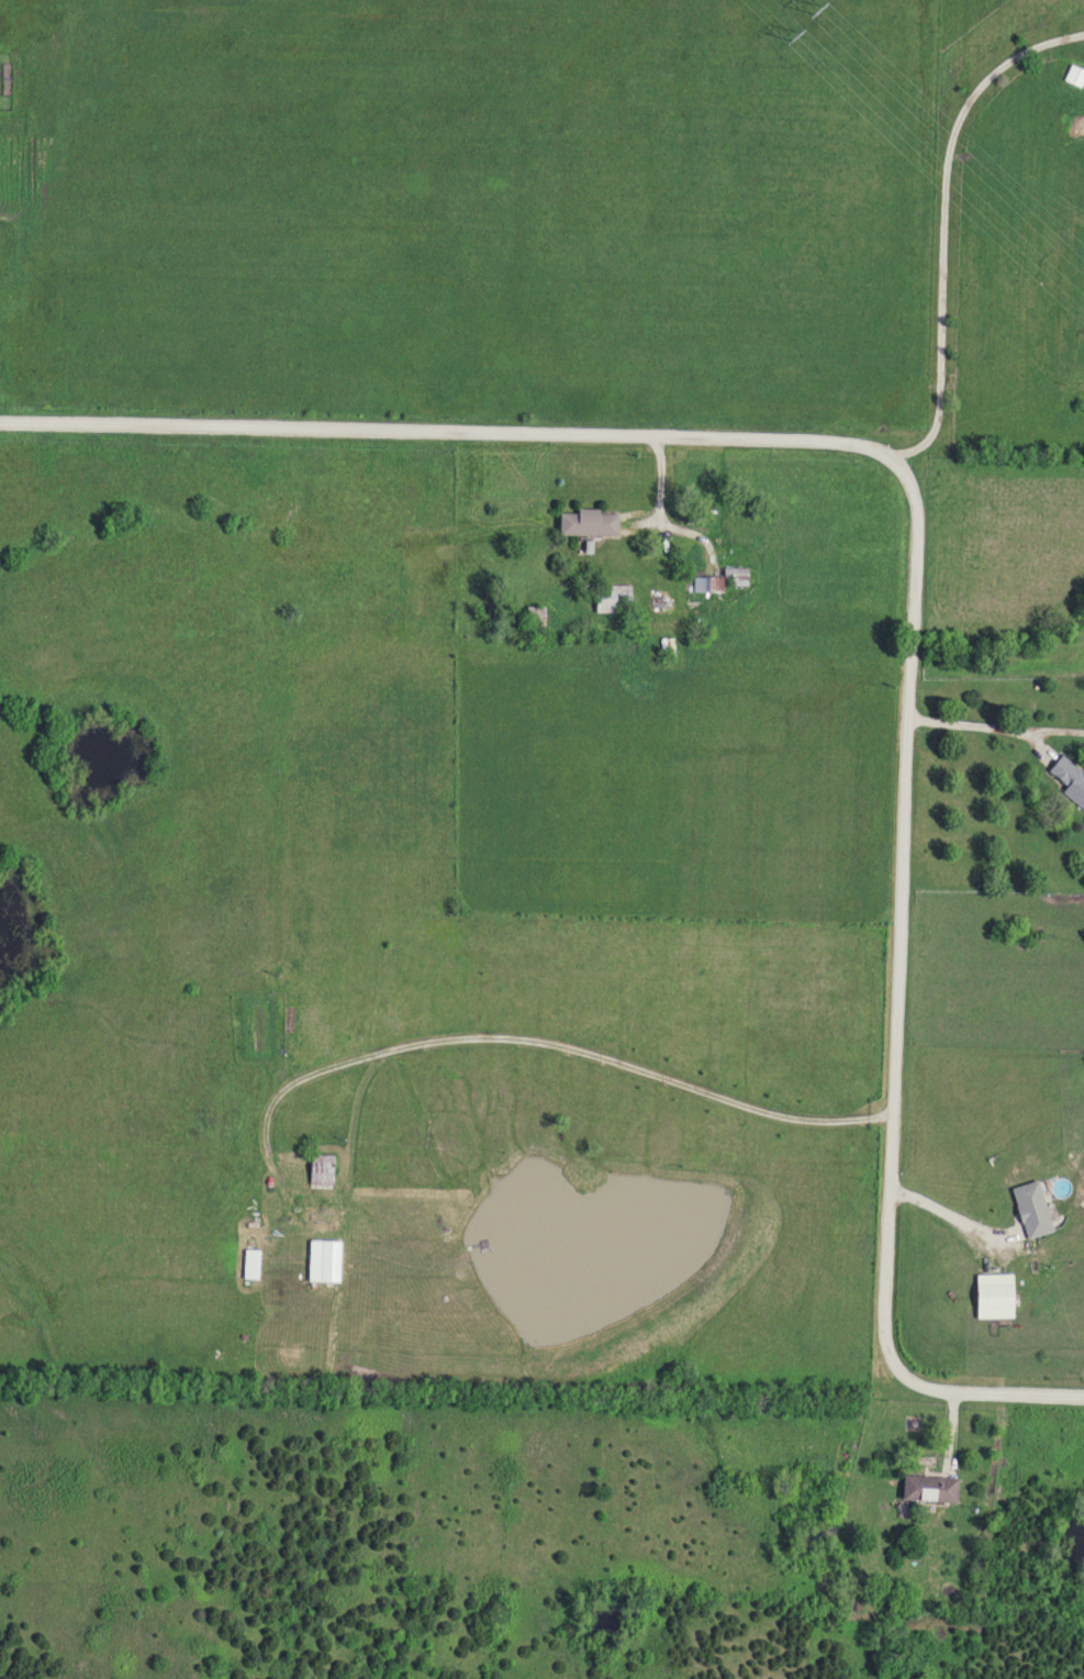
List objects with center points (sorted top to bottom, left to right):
power tower: (808, 11)
power tower: (779, 33)
road: (946, 224)
road: (451, 435)
building: (585, 523)
building: (735, 577)
building: (611, 598)
building: (533, 618)
road: (979, 725)
building: (1068, 779)
road: (902, 920)
road: (548, 1048)
building: (319, 1169)
building: (1028, 1210)
road: (946, 1213)
building: (322, 1261)
building: (248, 1265)
road: (991, 1394)
building: (927, 1487)

